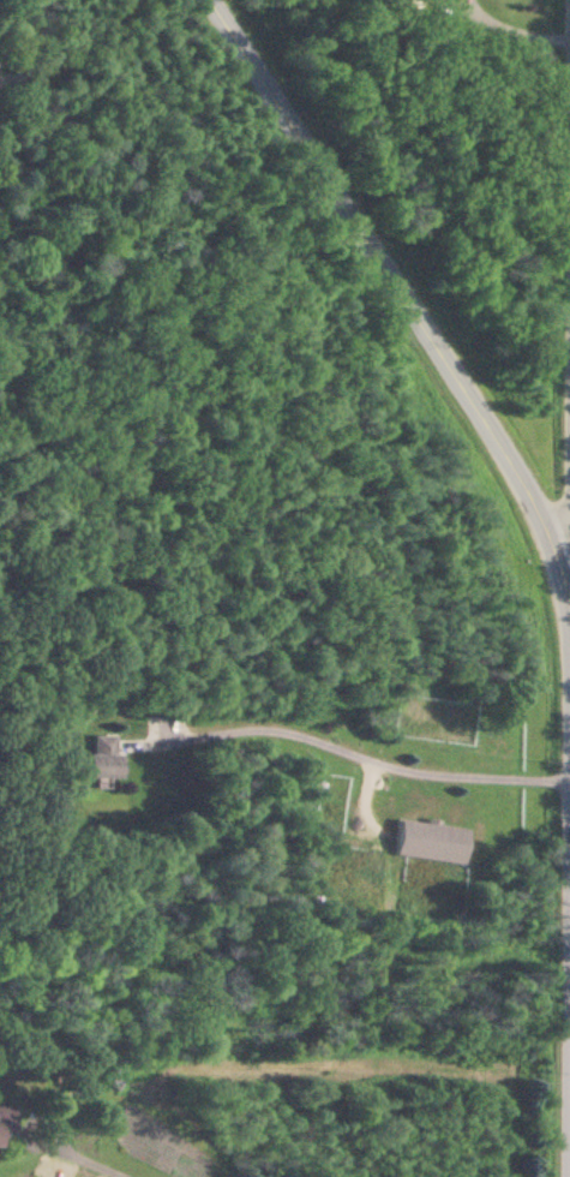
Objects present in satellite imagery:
road: (496, 26)
road: (394, 287)
road: (569, 534)
road: (569, 680)
road: (350, 754)
building: (103, 758)
building: (430, 841)
building: (6, 1123)
road: (84, 1165)

